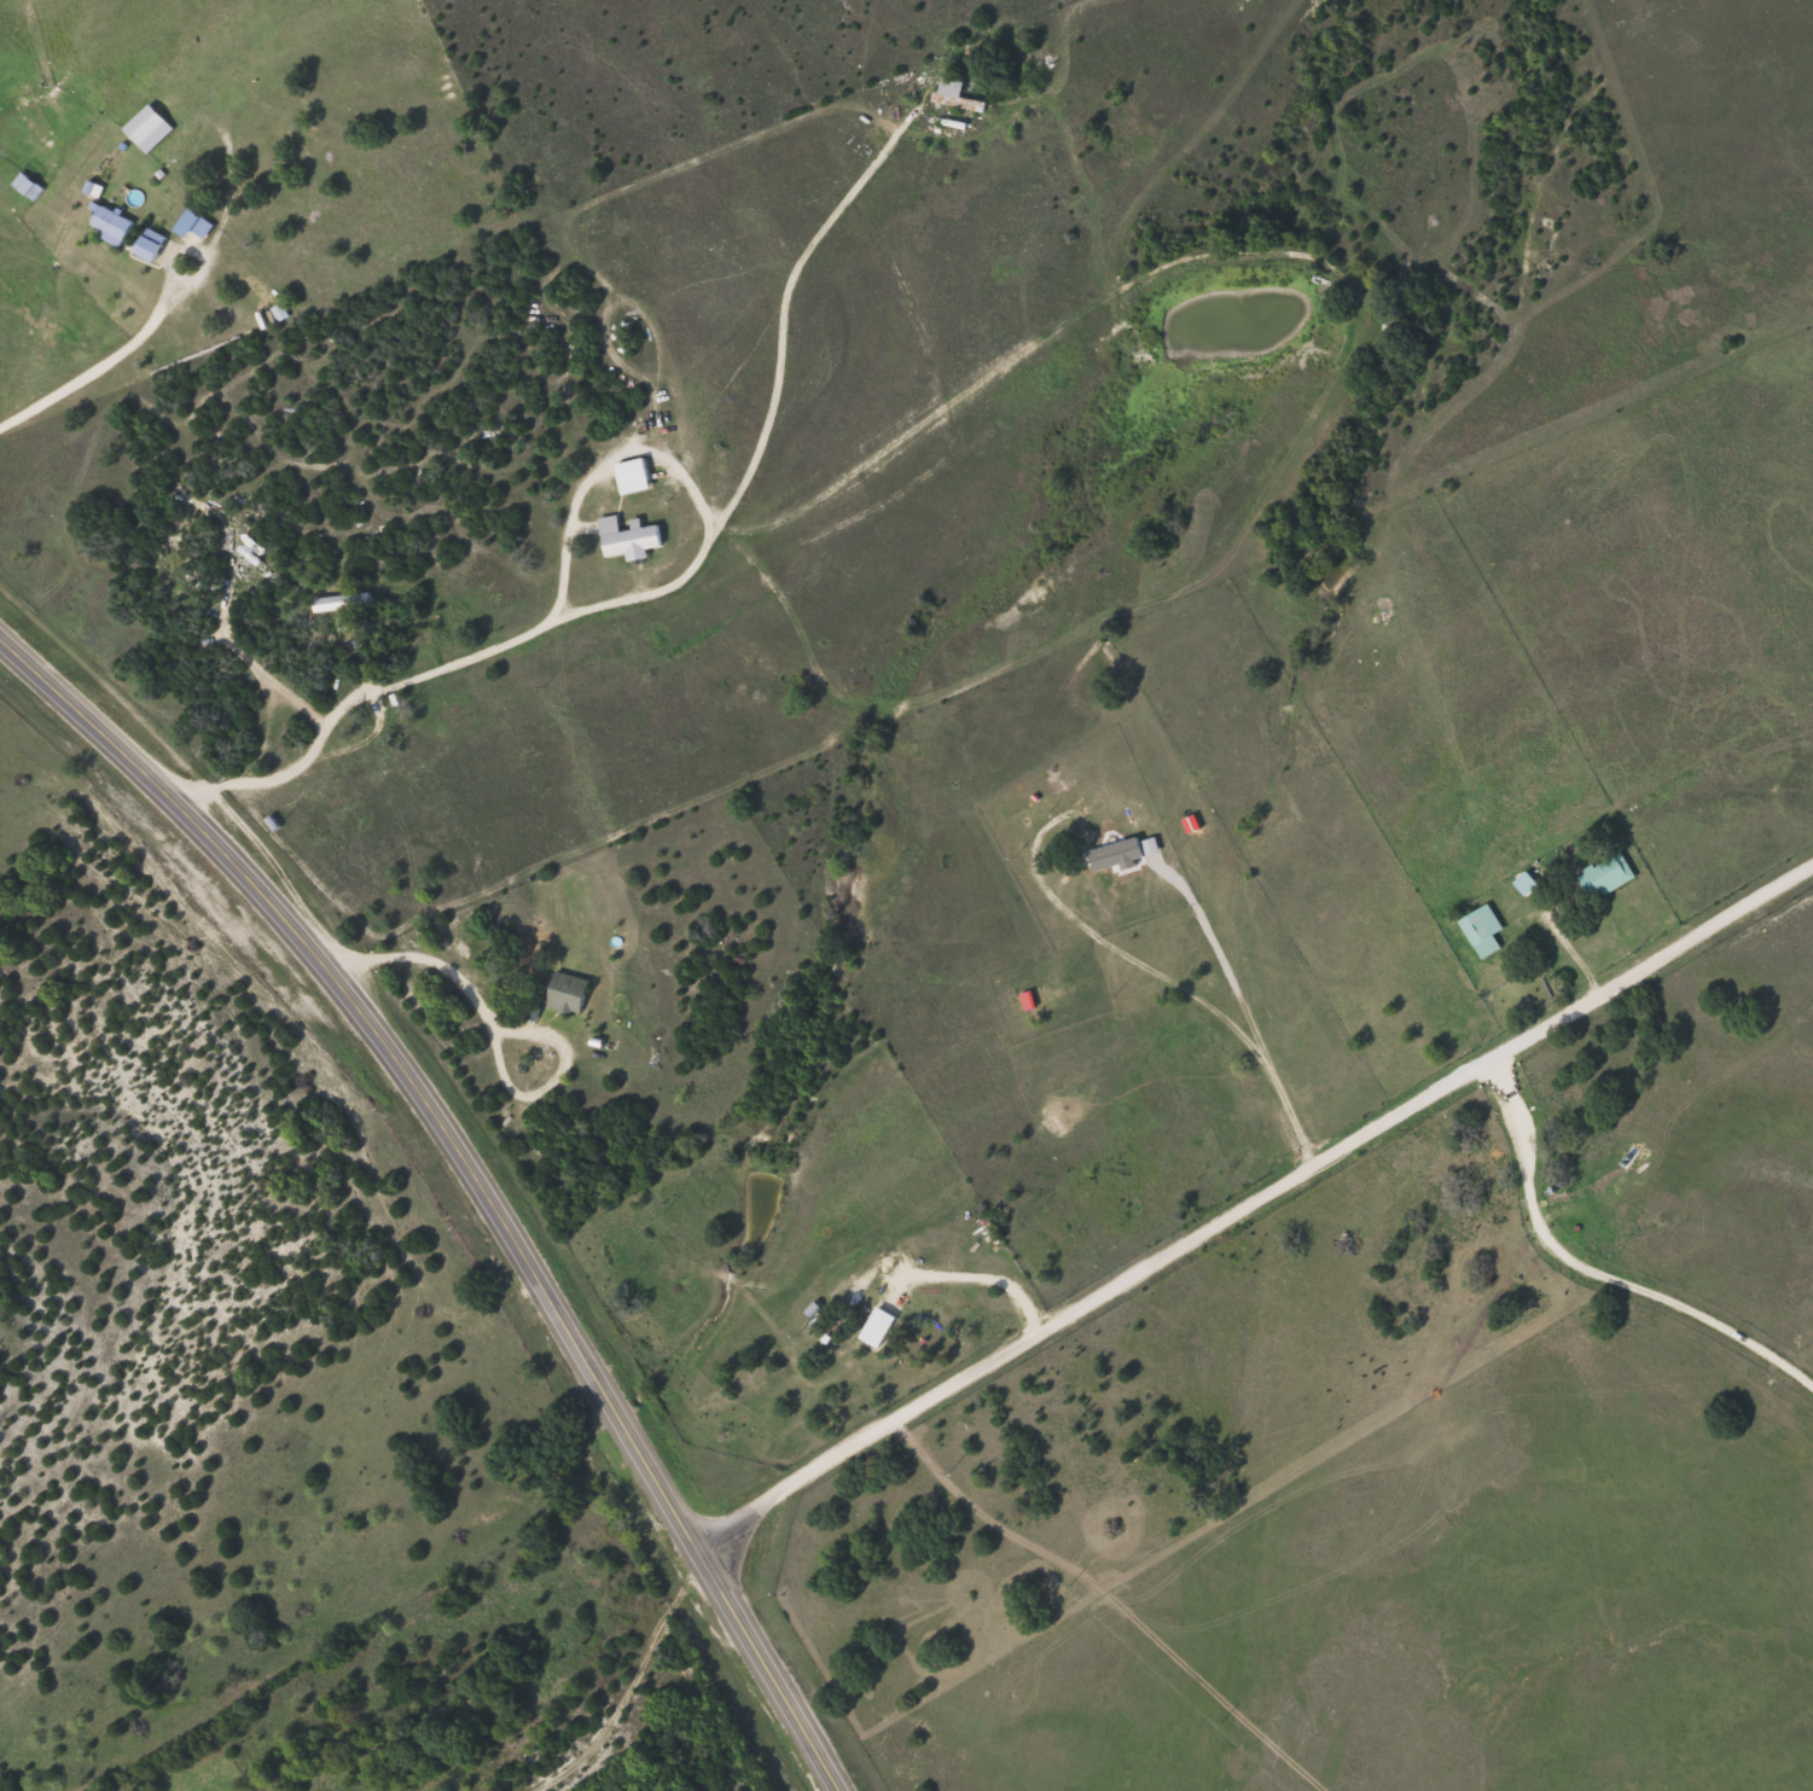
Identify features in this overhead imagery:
building: (949, 92)
building: (144, 126)
building: (106, 221)
building: (146, 243)
building: (628, 473)
building: (337, 605)
building: (1106, 853)
building: (1599, 874)
building: (1477, 928)
building: (563, 992)
building: (1030, 996)
road: (473, 1173)
road: (1256, 1209)

